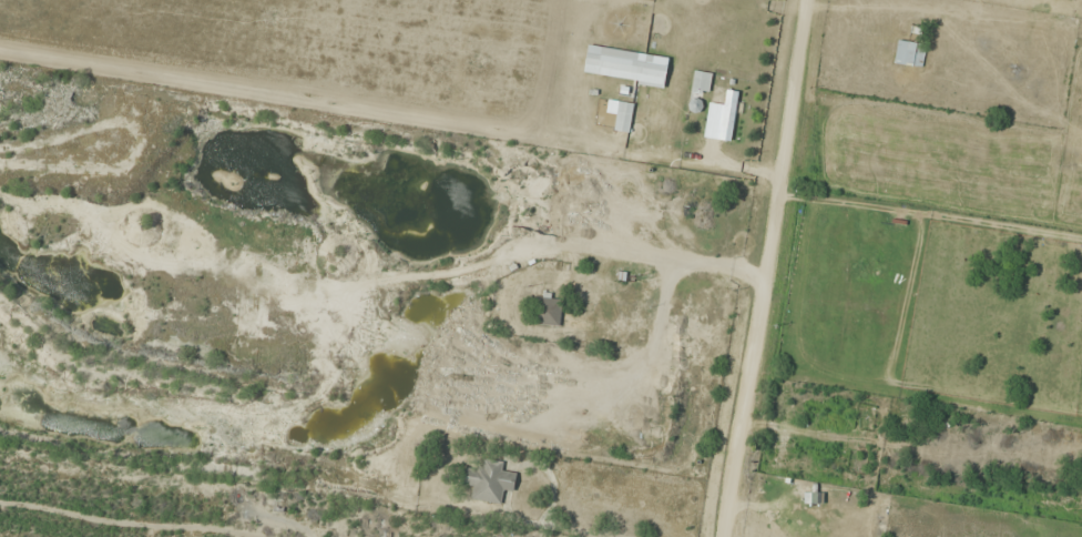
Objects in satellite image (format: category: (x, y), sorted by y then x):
building: (910, 52)
building: (701, 81)
building: (731, 112)
building: (624, 115)
road: (756, 267)
building: (549, 308)
building: (489, 479)

